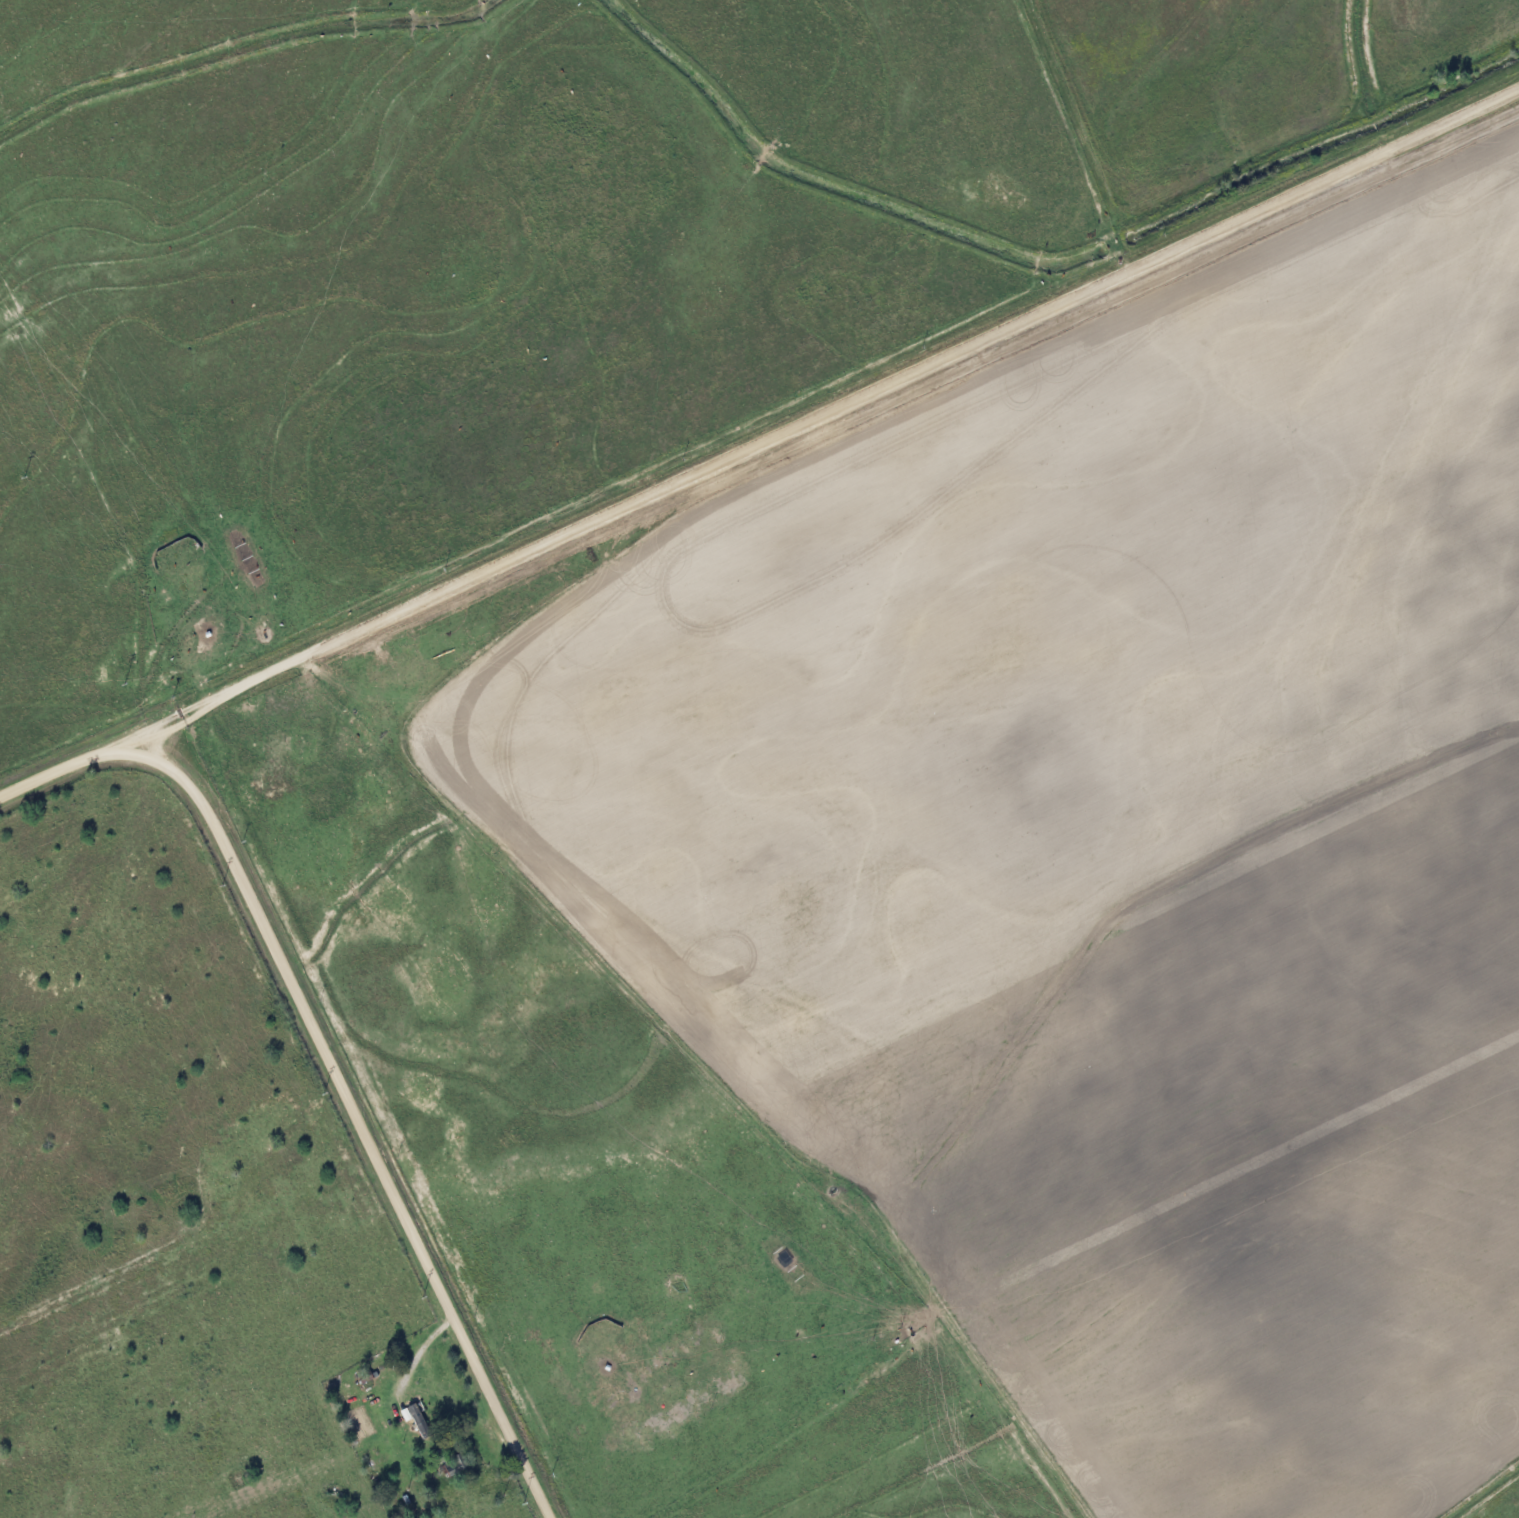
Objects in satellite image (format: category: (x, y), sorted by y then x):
road: (820, 406)
road: (324, 1057)
building: (415, 1420)
building: (451, 1464)

